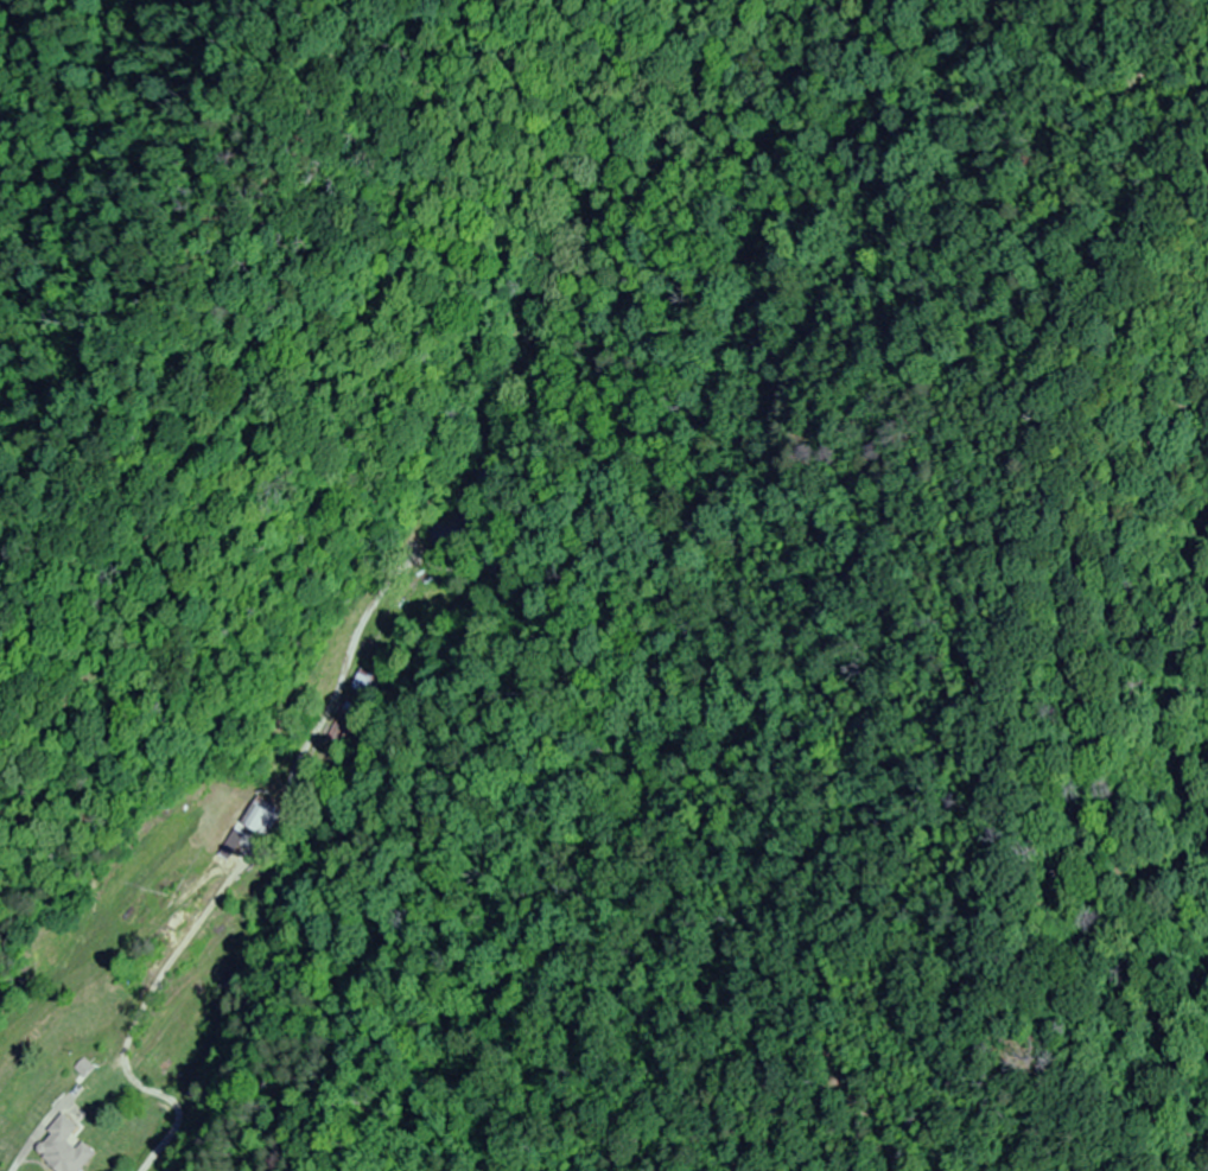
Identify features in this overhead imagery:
building: (265, 817)
building: (63, 1147)
road: (421, 1166)

